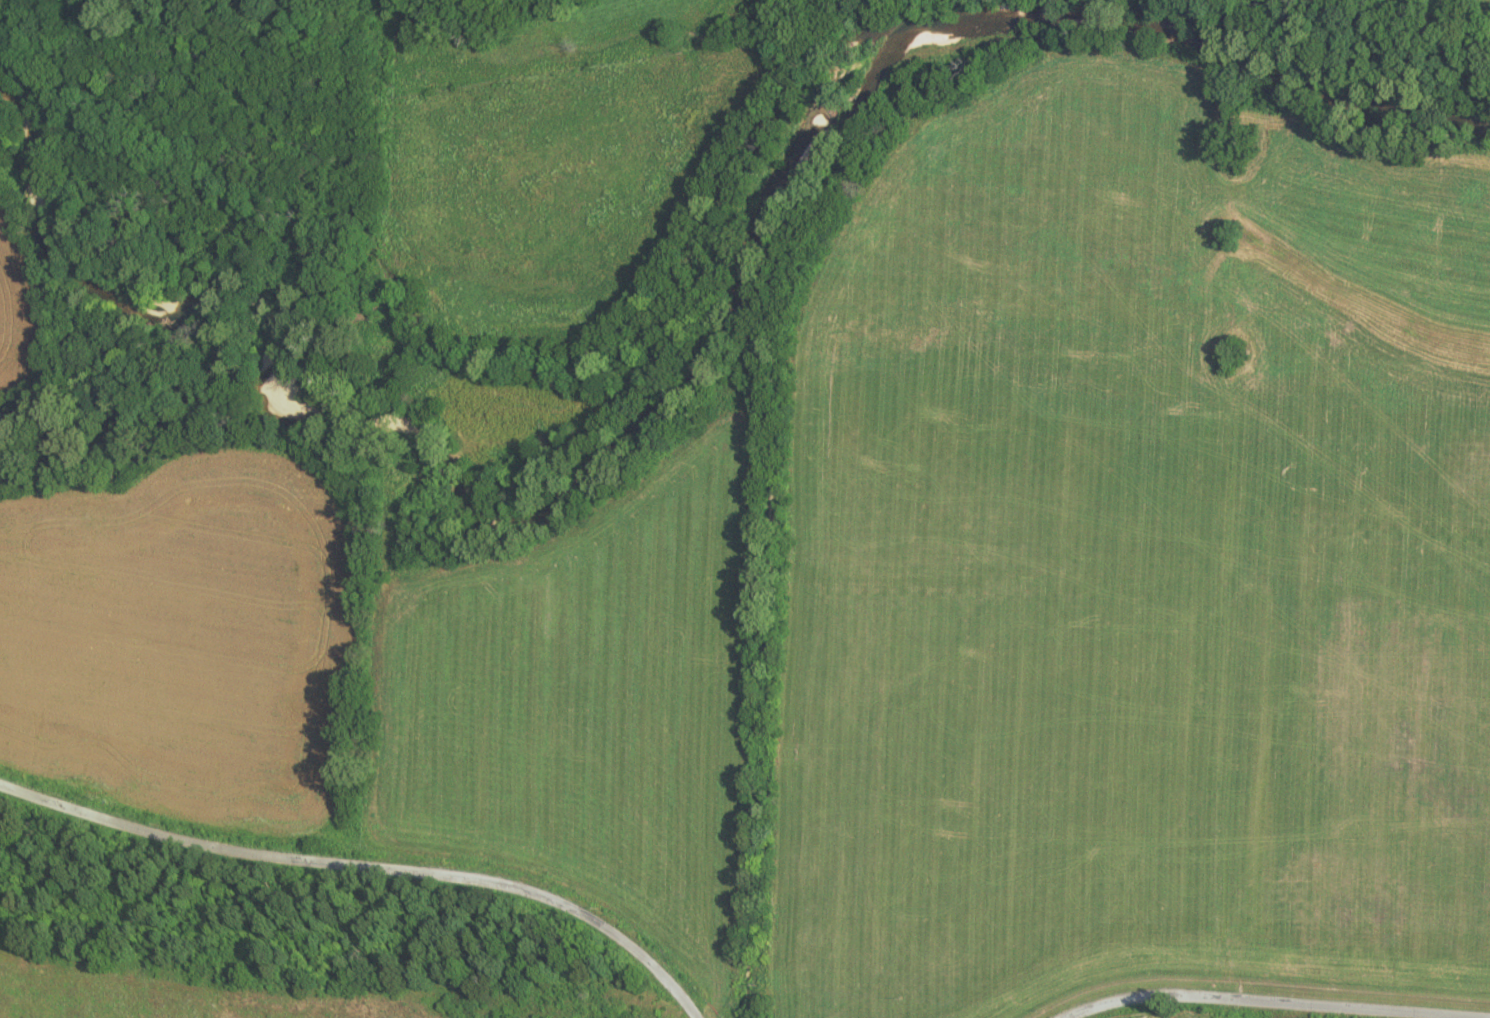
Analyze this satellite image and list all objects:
road: (367, 864)
road: (1259, 998)

